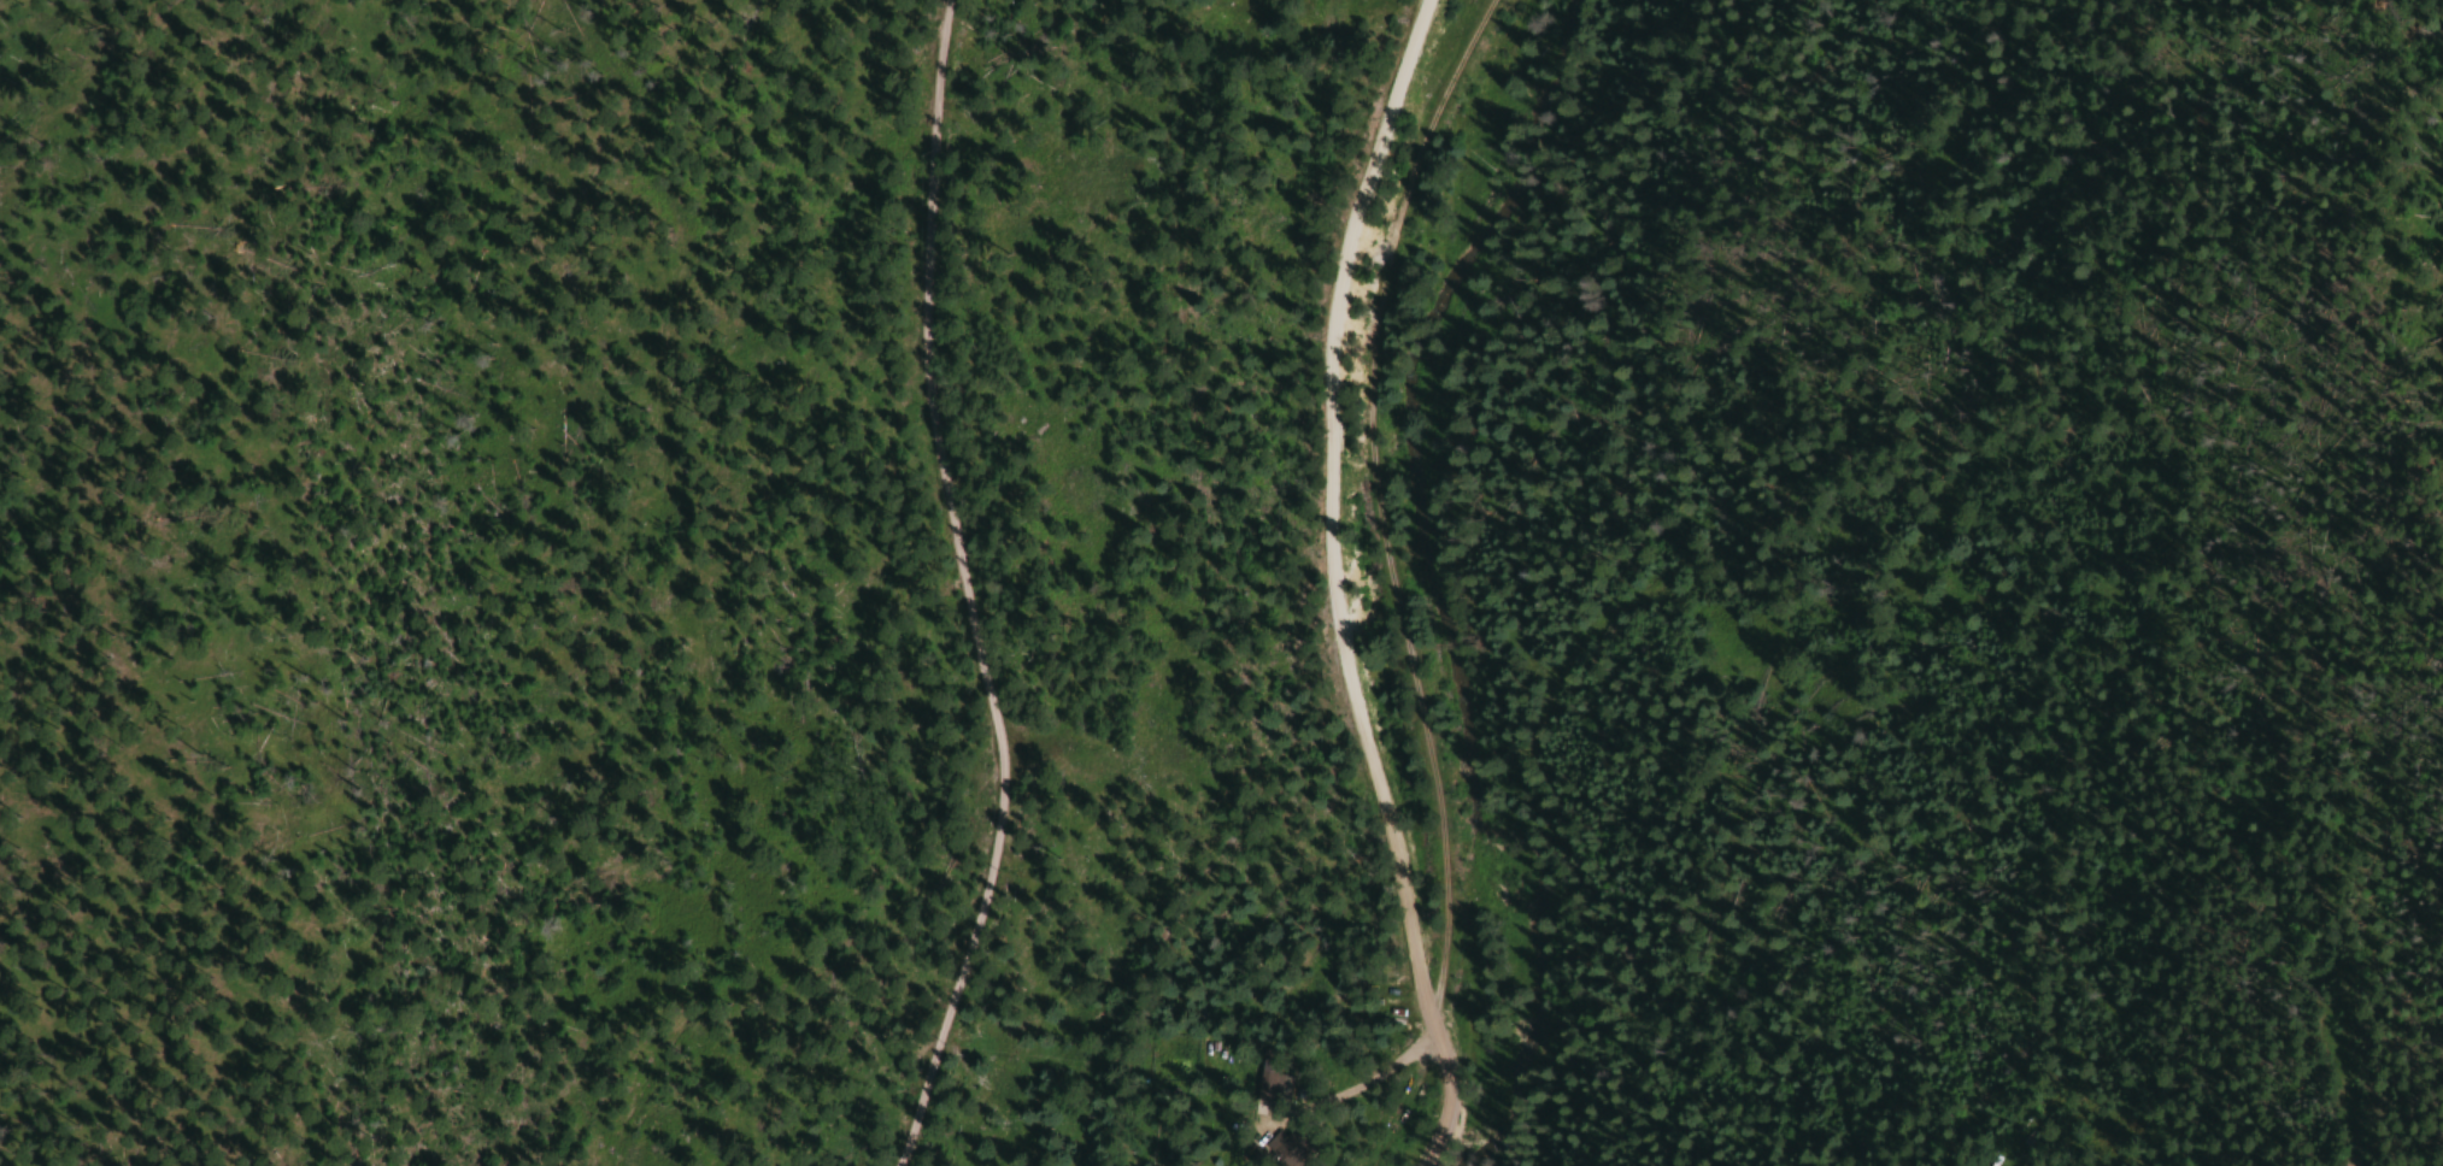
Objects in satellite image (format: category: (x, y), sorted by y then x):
road: (1333, 583)
road: (965, 590)
building: (1264, 1074)
building: (1288, 1148)

